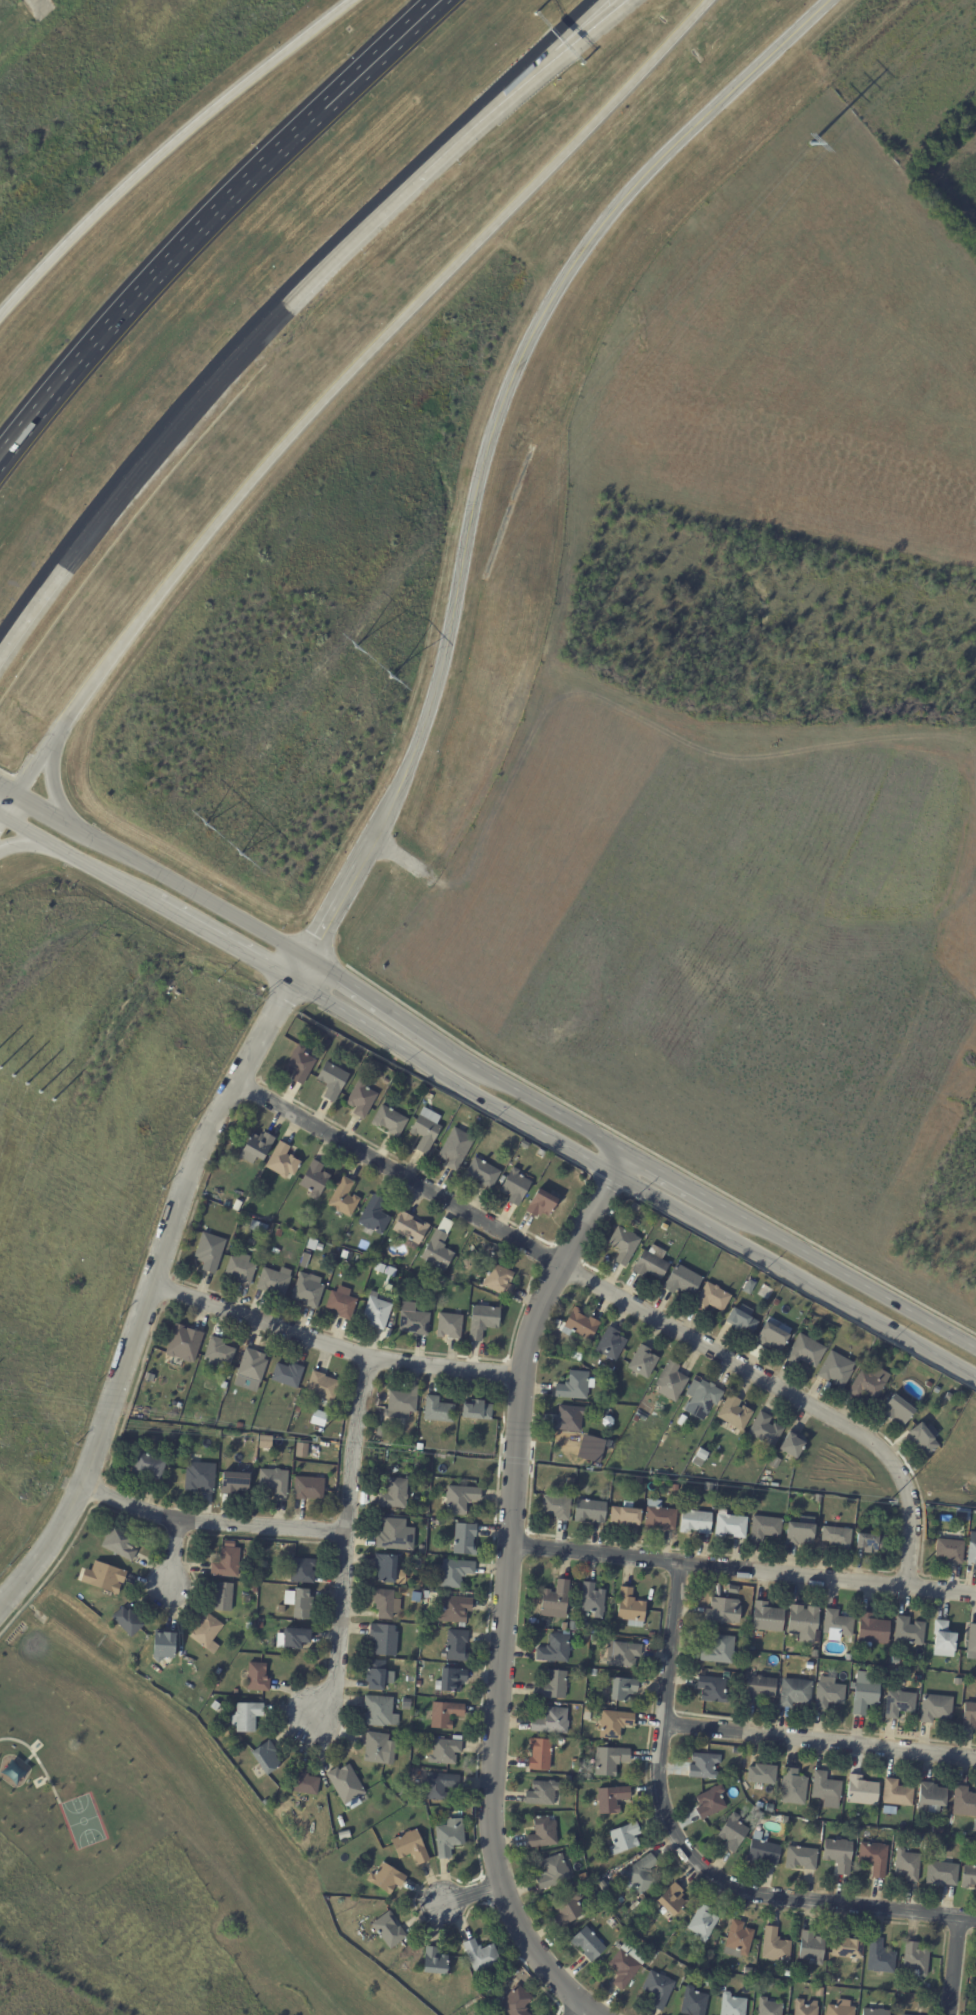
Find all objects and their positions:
road: (534, 66)
road: (548, 66)
road: (310, 109)
road: (328, 109)
power tower: (808, 145)
road: (160, 152)
road: (100, 339)
road: (366, 355)
road: (213, 379)
road: (492, 439)
power tower: (368, 662)
road: (37, 769)
road: (9, 792)
road: (55, 793)
road: (12, 806)
road: (3, 814)
road: (52, 816)
road: (3, 821)
power tower: (213, 842)
road: (31, 844)
road: (78, 861)
road: (197, 894)
road: (223, 941)
road: (299, 968)
road: (388, 1010)
building: (299, 1065)
power tower: (17, 1081)
building: (331, 1081)
building: (385, 1081)
building: (429, 1096)
building: (360, 1098)
road: (546, 1107)
building: (389, 1121)
building: (425, 1130)
building: (256, 1147)
building: (455, 1148)
building: (553, 1157)
building: (282, 1162)
building: (481, 1173)
building: (501, 1179)
building: (314, 1180)
road: (675, 1180)
road: (632, 1181)
building: (515, 1185)
building: (224, 1193)
building: (343, 1198)
building: (219, 1200)
building: (542, 1203)
building: (255, 1204)
building: (236, 1205)
building: (634, 1206)
building: (236, 1216)
building: (373, 1216)
building: (270, 1226)
building: (257, 1227)
building: (409, 1227)
building: (664, 1227)
building: (278, 1233)
building: (312, 1243)
building: (624, 1244)
building: (439, 1247)
building: (274, 1250)
building: (209, 1252)
building: (344, 1255)
building: (380, 1257)
building: (651, 1262)
building: (379, 1265)
building: (240, 1269)
road: (853, 1279)
building: (499, 1280)
building: (274, 1281)
building: (682, 1281)
building: (343, 1283)
building: (307, 1290)
road: (150, 1297)
building: (431, 1298)
building: (711, 1298)
road: (622, 1299)
building: (341, 1303)
building: (776, 1303)
building: (377, 1312)
building: (741, 1320)
building: (483, 1322)
building: (414, 1323)
building: (580, 1325)
building: (449, 1326)
building: (772, 1337)
building: (184, 1343)
road: (333, 1343)
building: (610, 1344)
building: (805, 1351)
building: (551, 1353)
building: (217, 1354)
building: (643, 1362)
building: (835, 1369)
building: (250, 1370)
building: (610, 1375)
building: (287, 1376)
building: (149, 1378)
building: (671, 1382)
building: (869, 1384)
building: (323, 1386)
building: (575, 1386)
building: (964, 1395)
building: (705, 1397)
building: (950, 1398)
building: (597, 1399)
building: (401, 1402)
building: (178, 1405)
building: (289, 1408)
building: (476, 1409)
building: (897, 1409)
building: (437, 1410)
building: (297, 1411)
building: (734, 1413)
building: (569, 1418)
building: (681, 1421)
building: (607, 1422)
building: (239, 1425)
building: (380, 1431)
building: (765, 1431)
power tower: (312, 1437)
building: (613, 1438)
building: (923, 1438)
building: (265, 1442)
building: (792, 1444)
building: (419, 1447)
building: (302, 1451)
building: (773, 1461)
building: (149, 1466)
power tower: (586, 1467)
building: (199, 1477)
building: (273, 1481)
building: (234, 1484)
building: (653, 1486)
building: (307, 1488)
building: (675, 1488)
building: (439, 1490)
building: (394, 1494)
building: (818, 1498)
building: (459, 1499)
building: (728, 1499)
power tower: (885, 1500)
building: (556, 1505)
building: (590, 1511)
building: (625, 1515)
building: (962, 1515)
building: (659, 1517)
road: (208, 1522)
building: (695, 1522)
building: (437, 1523)
building: (730, 1525)
building: (765, 1528)
building: (800, 1531)
building: (391, 1534)
building: (837, 1537)
building: (464, 1540)
road: (341, 1542)
building: (121, 1543)
building: (871, 1543)
building: (421, 1550)
building: (950, 1550)
road: (169, 1551)
building: (972, 1553)
building: (438, 1557)
building: (226, 1563)
building: (386, 1569)
road: (743, 1570)
building: (302, 1571)
building: (255, 1572)
building: (454, 1573)
building: (106, 1578)
road: (507, 1588)
building: (254, 1589)
building: (449, 1595)
building: (461, 1596)
building: (222, 1597)
building: (592, 1600)
building: (555, 1601)
building: (300, 1603)
building: (385, 1603)
building: (630, 1609)
building: (280, 1610)
building: (453, 1610)
building: (720, 1610)
building: (767, 1618)
building: (127, 1622)
building: (802, 1623)
building: (837, 1624)
building: (572, 1626)
building: (564, 1627)
building: (872, 1630)
building: (909, 1631)
building: (206, 1633)
building: (745, 1634)
building: (651, 1635)
building: (943, 1637)
building: (294, 1638)
building: (593, 1639)
building: (383, 1640)
building: (971, 1642)
building: (163, 1646)
building: (455, 1646)
building: (553, 1648)
building: (719, 1650)
building: (814, 1654)
building: (623, 1656)
building: (848, 1657)
building: (771, 1658)
building: (893, 1661)
building: (888, 1673)
building: (377, 1676)
building: (257, 1678)
building: (413, 1680)
building: (451, 1680)
building: (957, 1681)
building: (553, 1686)
building: (622, 1689)
building: (712, 1689)
building: (760, 1689)
building: (235, 1692)
building: (795, 1693)
building: (828, 1693)
building: (588, 1694)
building: (865, 1697)
building: (588, 1702)
building: (216, 1704)
building: (899, 1704)
building: (406, 1705)
building: (935, 1708)
building: (588, 1710)
building: (379, 1711)
building: (444, 1715)
building: (246, 1716)
building: (969, 1717)
building: (551, 1722)
building: (614, 1725)
building: (457, 1738)
road: (820, 1741)
building: (377, 1749)
building: (444, 1753)
building: (738, 1754)
building: (539, 1755)
building: (265, 1758)
road: (28, 1759)
road: (39, 1761)
building: (609, 1762)
building: (404, 1765)
building: (573, 1766)
building: (704, 1766)
building: (733, 1767)
building: (762, 1775)
building: (569, 1780)
building: (304, 1783)
building: (345, 1786)
building: (437, 1786)
building: (793, 1788)
building: (826, 1790)
building: (862, 1791)
building: (541, 1793)
building: (897, 1794)
building: (930, 1798)
building: (611, 1799)
building: (964, 1802)
building: (265, 1803)
building: (710, 1803)
building: (804, 1812)
building: (813, 1816)
building: (778, 1819)
building: (873, 1821)
park: (84, 1823)
building: (940, 1830)
building: (542, 1833)
building: (732, 1833)
building: (448, 1838)
building: (625, 1839)
building: (410, 1847)
building: (763, 1850)
building: (946, 1852)
building: (839, 1855)
road: (687, 1856)
park: (122, 1857)
building: (802, 1858)
building: (874, 1859)
building: (907, 1866)
building: (553, 1872)
building: (942, 1874)
building: (640, 1876)
building: (969, 1877)
building: (385, 1879)
road: (466, 1894)
building: (672, 1900)
building: (599, 1903)
building: (567, 1910)
building: (703, 1923)
building: (388, 1931)
building: (628, 1938)
building: (738, 1940)
building: (587, 1945)
building: (774, 1946)
building: (847, 1947)
building: (811, 1948)
building: (880, 1957)
building: (483, 1958)
building: (662, 1959)
building: (915, 1961)
building: (434, 1962)
building: (625, 1966)
road: (954, 1966)
building: (748, 1971)
building: (787, 1974)
building: (658, 1990)
building: (828, 1990)
building: (490, 1991)
building: (819, 1993)
building: (515, 2002)
building: (693, 2003)
building: (733, 2005)
building: (769, 2008)
building: (805, 2008)
building: (841, 2008)
road: (574, 2011)
building: (874, 2012)

